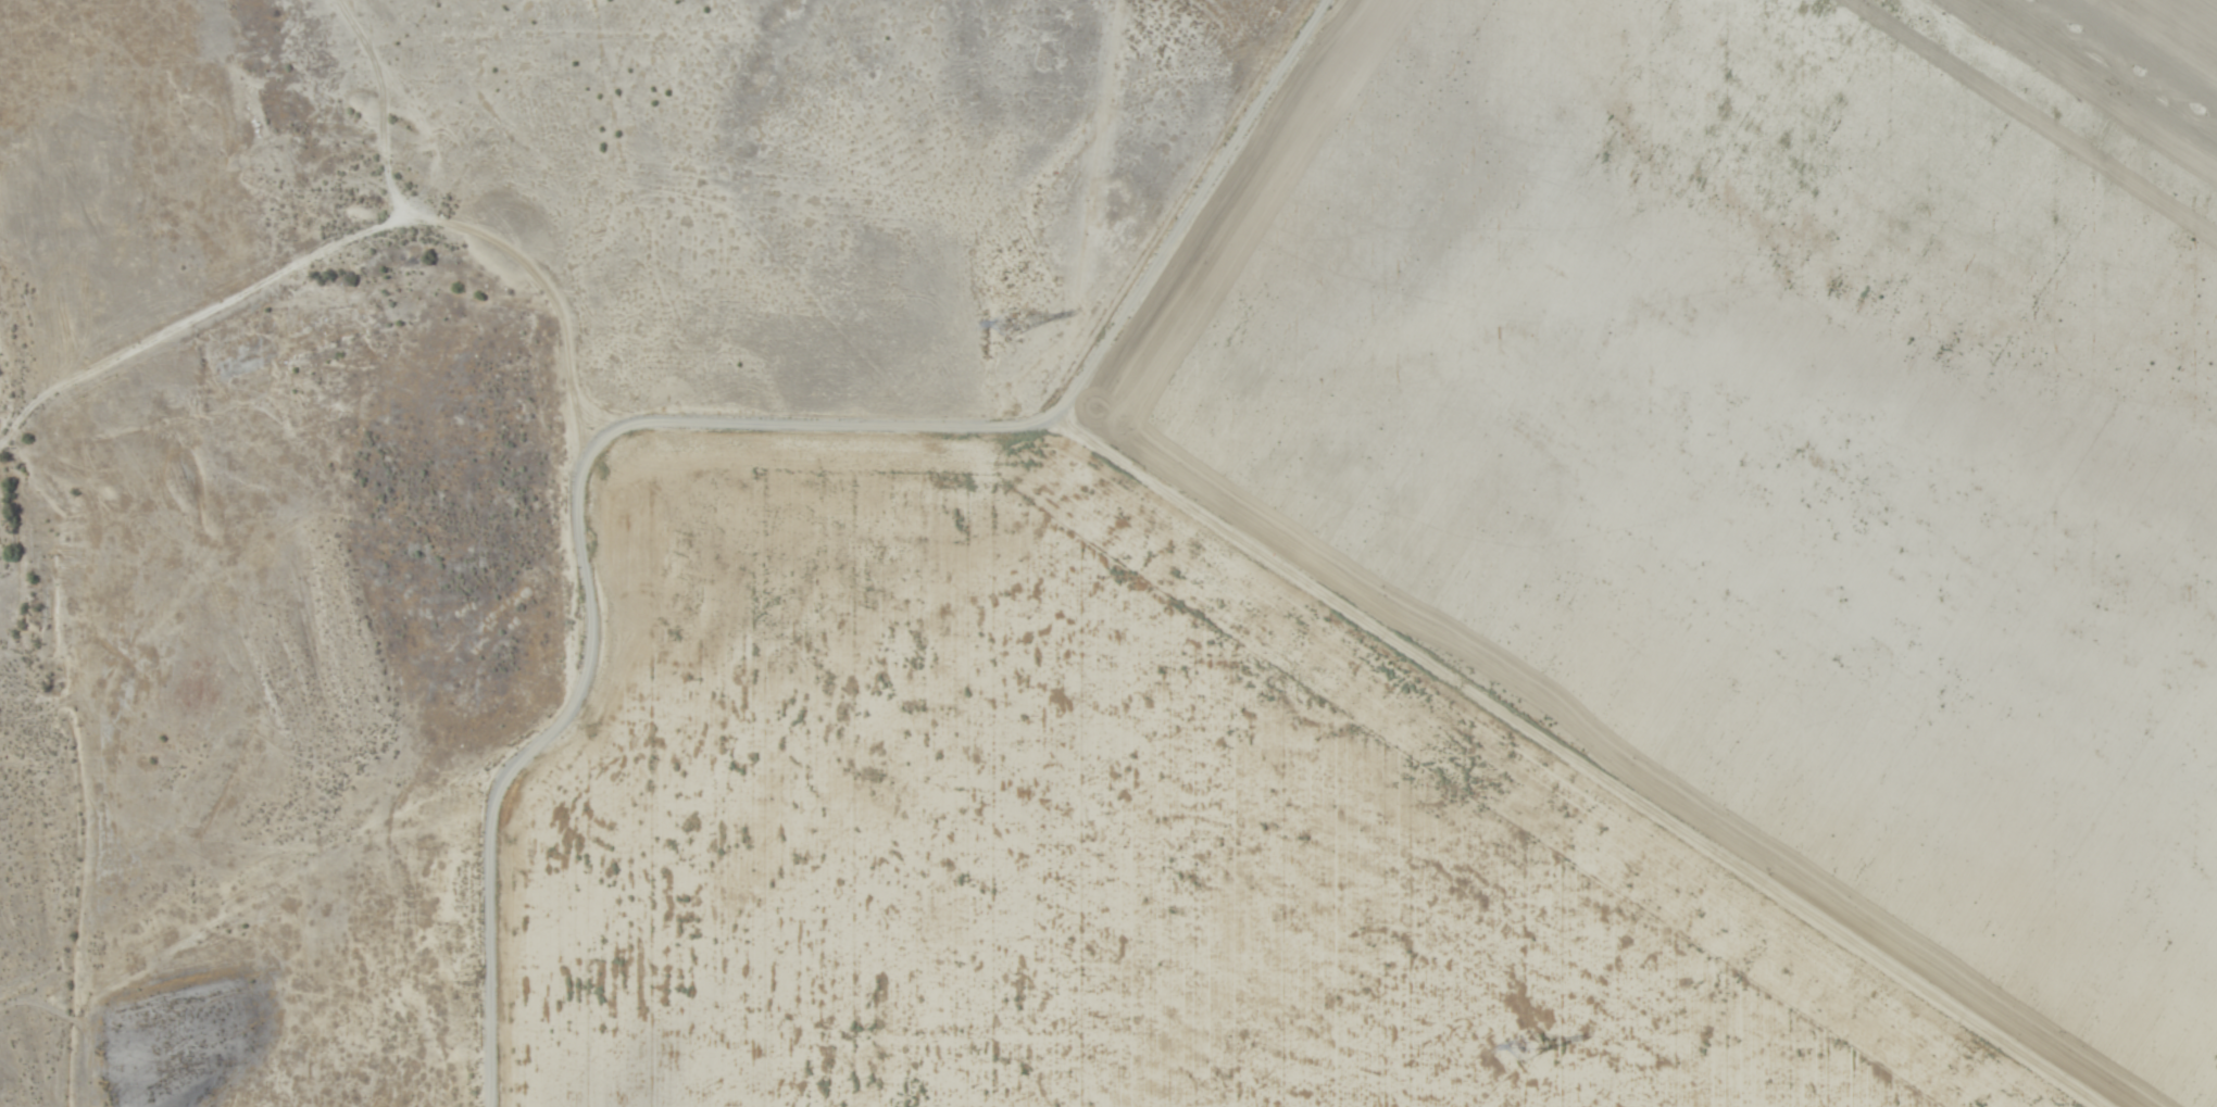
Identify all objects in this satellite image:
crop: (2154, 40)
road: (1535, 102)
power tower: (1010, 323)

